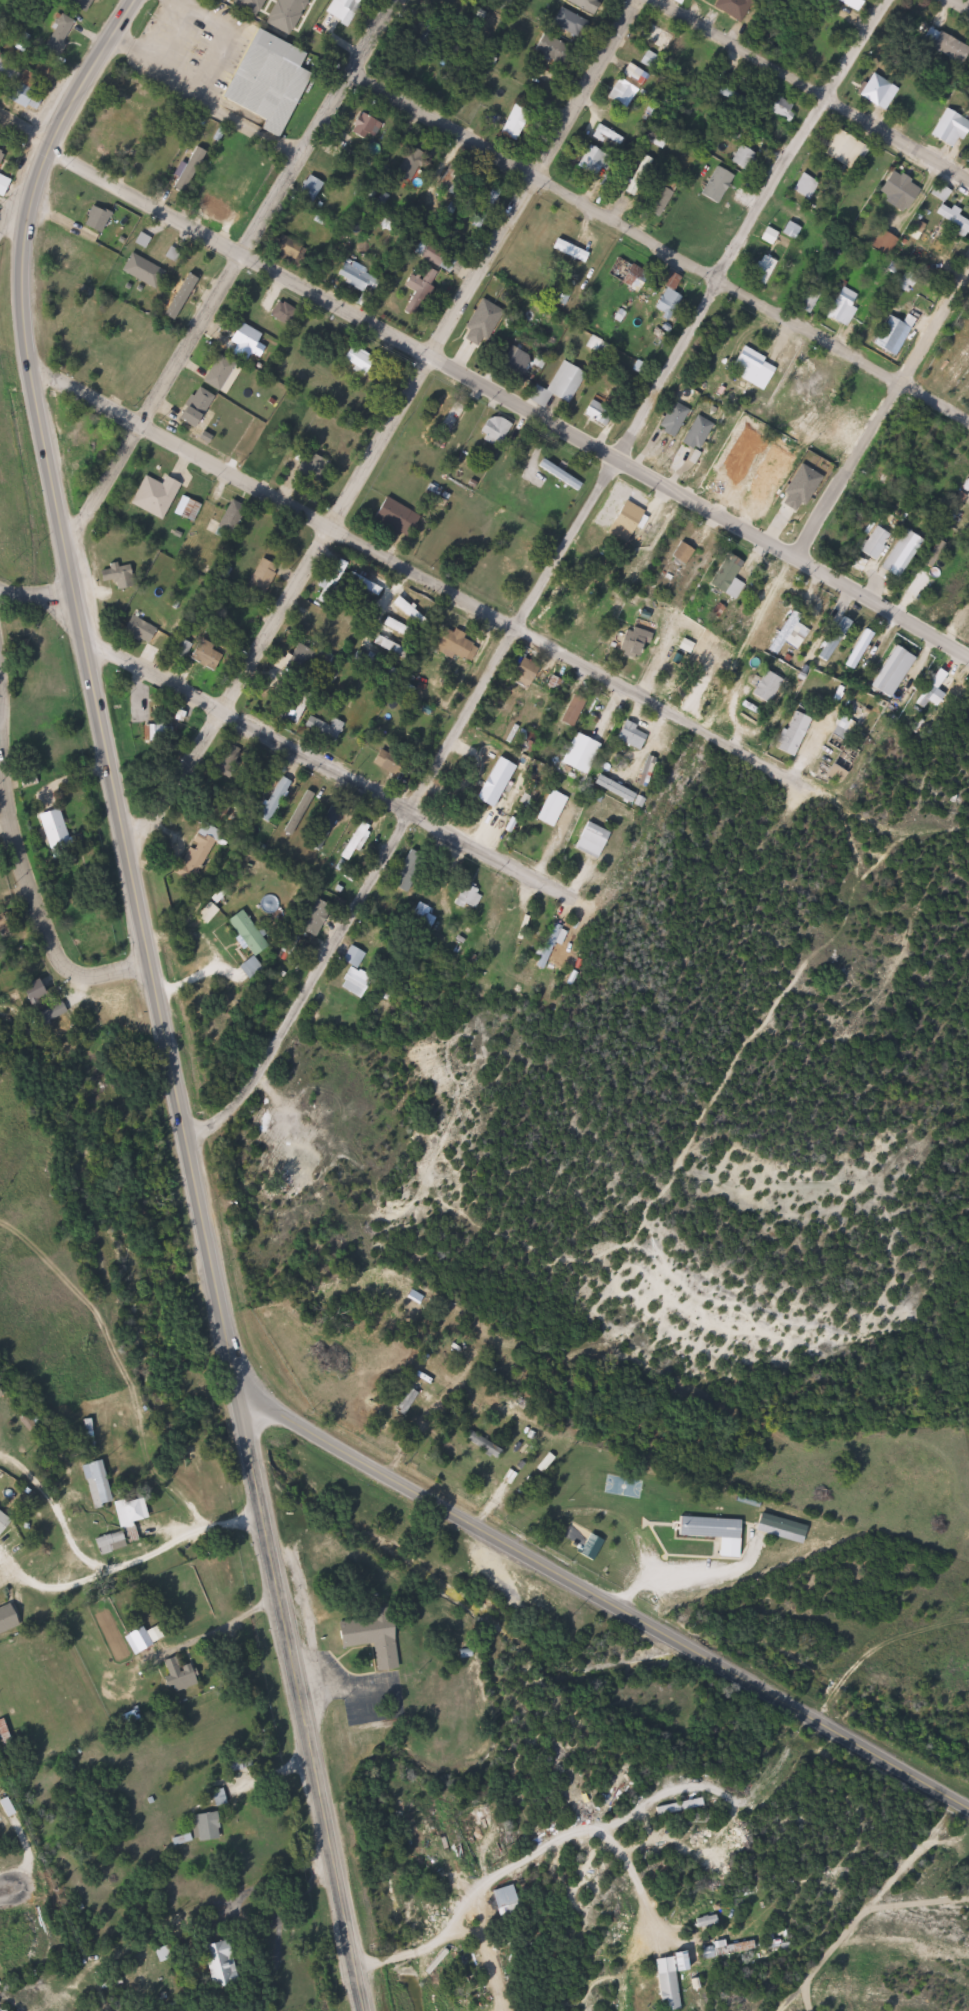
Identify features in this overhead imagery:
building: (708, 0)
building: (682, 1)
road: (960, 4)
building: (589, 5)
building: (737, 7)
building: (347, 10)
building: (660, 36)
building: (428, 38)
building: (946, 46)
building: (556, 49)
building: (654, 60)
building: (274, 80)
road: (807, 87)
building: (621, 90)
building: (879, 90)
building: (28, 95)
building: (518, 122)
building: (365, 126)
building: (949, 128)
building: (612, 134)
building: (102, 143)
building: (846, 148)
building: (596, 160)
building: (5, 168)
building: (190, 171)
building: (721, 184)
building: (807, 186)
building: (465, 187)
building: (311, 190)
building: (894, 190)
road: (25, 191)
building: (490, 205)
building: (221, 210)
building: (99, 219)
building: (794, 231)
building: (772, 236)
building: (881, 243)
road: (658, 249)
building: (573, 251)
building: (441, 258)
building: (766, 269)
building: (143, 271)
road: (230, 273)
building: (356, 276)
building: (639, 277)
building: (422, 290)
building: (670, 296)
building: (812, 299)
building: (180, 305)
building: (839, 305)
building: (284, 313)
building: (475, 329)
building: (889, 334)
building: (248, 338)
building: (362, 361)
building: (516, 361)
building: (955, 362)
building: (756, 368)
building: (221, 372)
building: (562, 385)
road: (484, 389)
building: (199, 407)
road: (882, 414)
building: (455, 416)
building: (675, 419)
road: (387, 431)
building: (497, 431)
building: (700, 433)
building: (89, 440)
building: (314, 467)
building: (563, 474)
building: (770, 483)
road: (273, 497)
building: (190, 508)
building: (232, 515)
building: (631, 517)
building: (399, 518)
building: (288, 542)
building: (872, 542)
building: (686, 553)
building: (898, 553)
building: (731, 576)
building: (335, 580)
road: (545, 580)
building: (413, 611)
building: (401, 628)
building: (150, 630)
building: (785, 633)
building: (323, 637)
building: (829, 638)
building: (639, 642)
building: (182, 644)
building: (461, 645)
building: (393, 647)
building: (855, 649)
road: (552, 650)
building: (214, 654)
building: (888, 671)
building: (528, 674)
road: (94, 684)
building: (761, 686)
building: (927, 688)
building: (578, 711)
road: (699, 728)
building: (325, 729)
building: (786, 732)
road: (0, 733)
building: (635, 736)
building: (530, 745)
road: (284, 746)
building: (584, 754)
building: (392, 765)
building: (650, 772)
building: (619, 789)
building: (279, 799)
building: (555, 809)
building: (303, 813)
building: (57, 827)
building: (327, 828)
building: (594, 840)
building: (357, 842)
building: (202, 854)
road: (30, 890)
building: (470, 897)
building: (252, 933)
building: (357, 974)
building: (40, 992)
building: (56, 1013)
building: (401, 1401)
building: (36, 1419)
building: (101, 1483)
road: (58, 1512)
building: (5, 1520)
building: (127, 1525)
building: (777, 1528)
building: (709, 1532)
road: (184, 1533)
road: (53, 1585)
road: (601, 1601)
building: (10, 1619)
building: (150, 1637)
building: (376, 1639)
road: (162, 1650)
building: (181, 1675)
road: (299, 1700)
building: (682, 1807)
building: (208, 1827)
road: (515, 1852)
road: (5, 1889)
road: (160, 1917)
building: (730, 1952)
building: (226, 1964)
building: (458, 1971)
building: (670, 1984)
building: (478, 2001)

